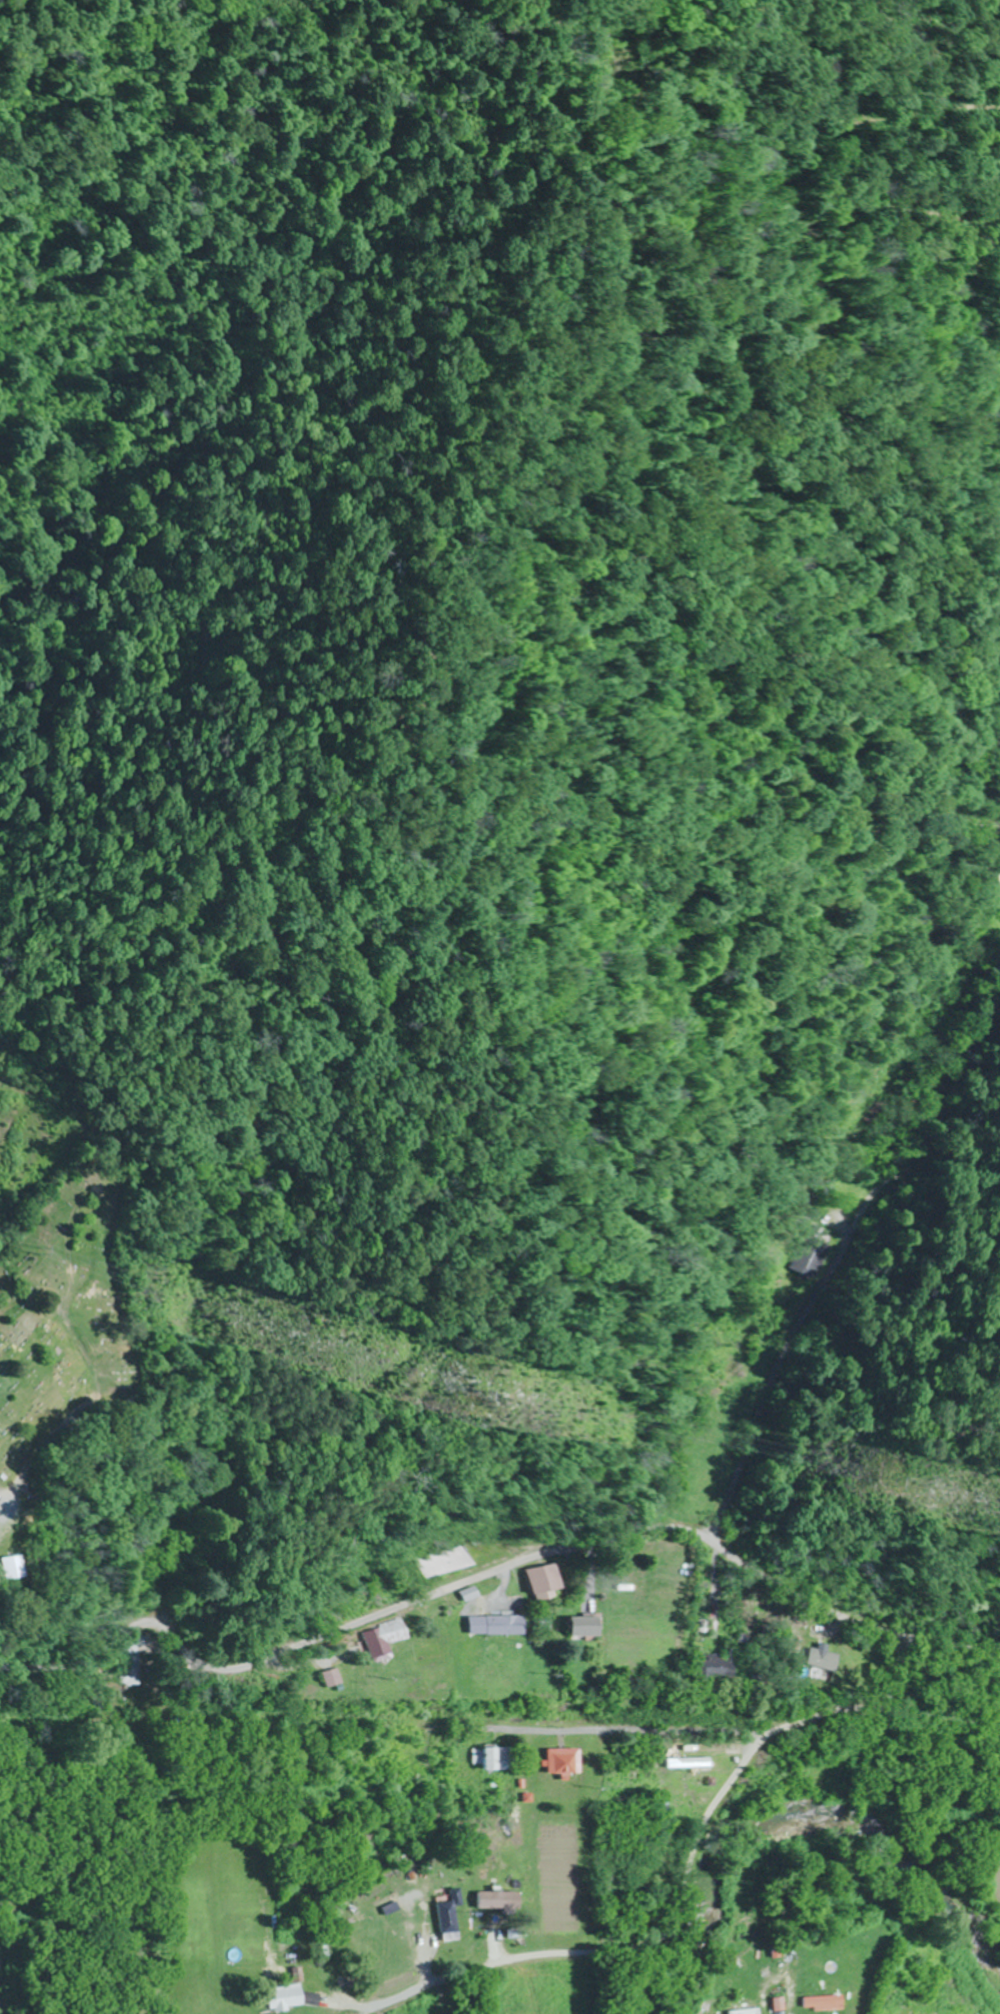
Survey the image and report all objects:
building: (999, 891)
road: (831, 1213)
building: (817, 1257)
park: (71, 1358)
building: (454, 1562)
building: (16, 1566)
road: (495, 1572)
building: (548, 1582)
building: (499, 1625)
building: (586, 1626)
building: (388, 1639)
building: (137, 1660)
building: (713, 1668)
building: (336, 1678)
railway: (501, 1718)
road: (640, 1732)
building: (494, 1758)
building: (563, 1761)
building: (686, 1763)
road: (681, 1892)
building: (488, 1900)
building: (446, 1921)
building: (363, 1934)
building: (395, 1981)
building: (912, 1989)
building: (288, 1997)
building: (821, 2003)
building: (774, 2004)
building: (741, 2012)

